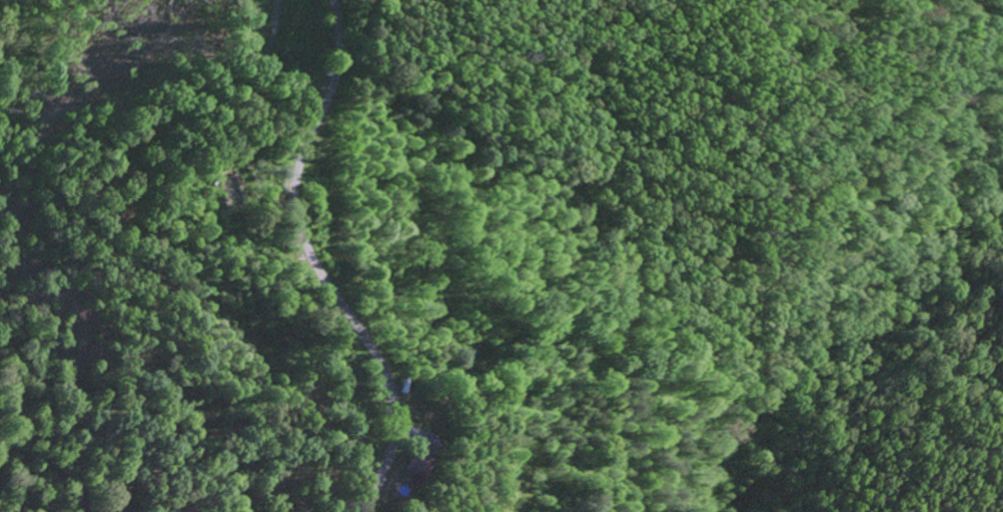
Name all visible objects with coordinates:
road: (312, 265)
building: (422, 461)

